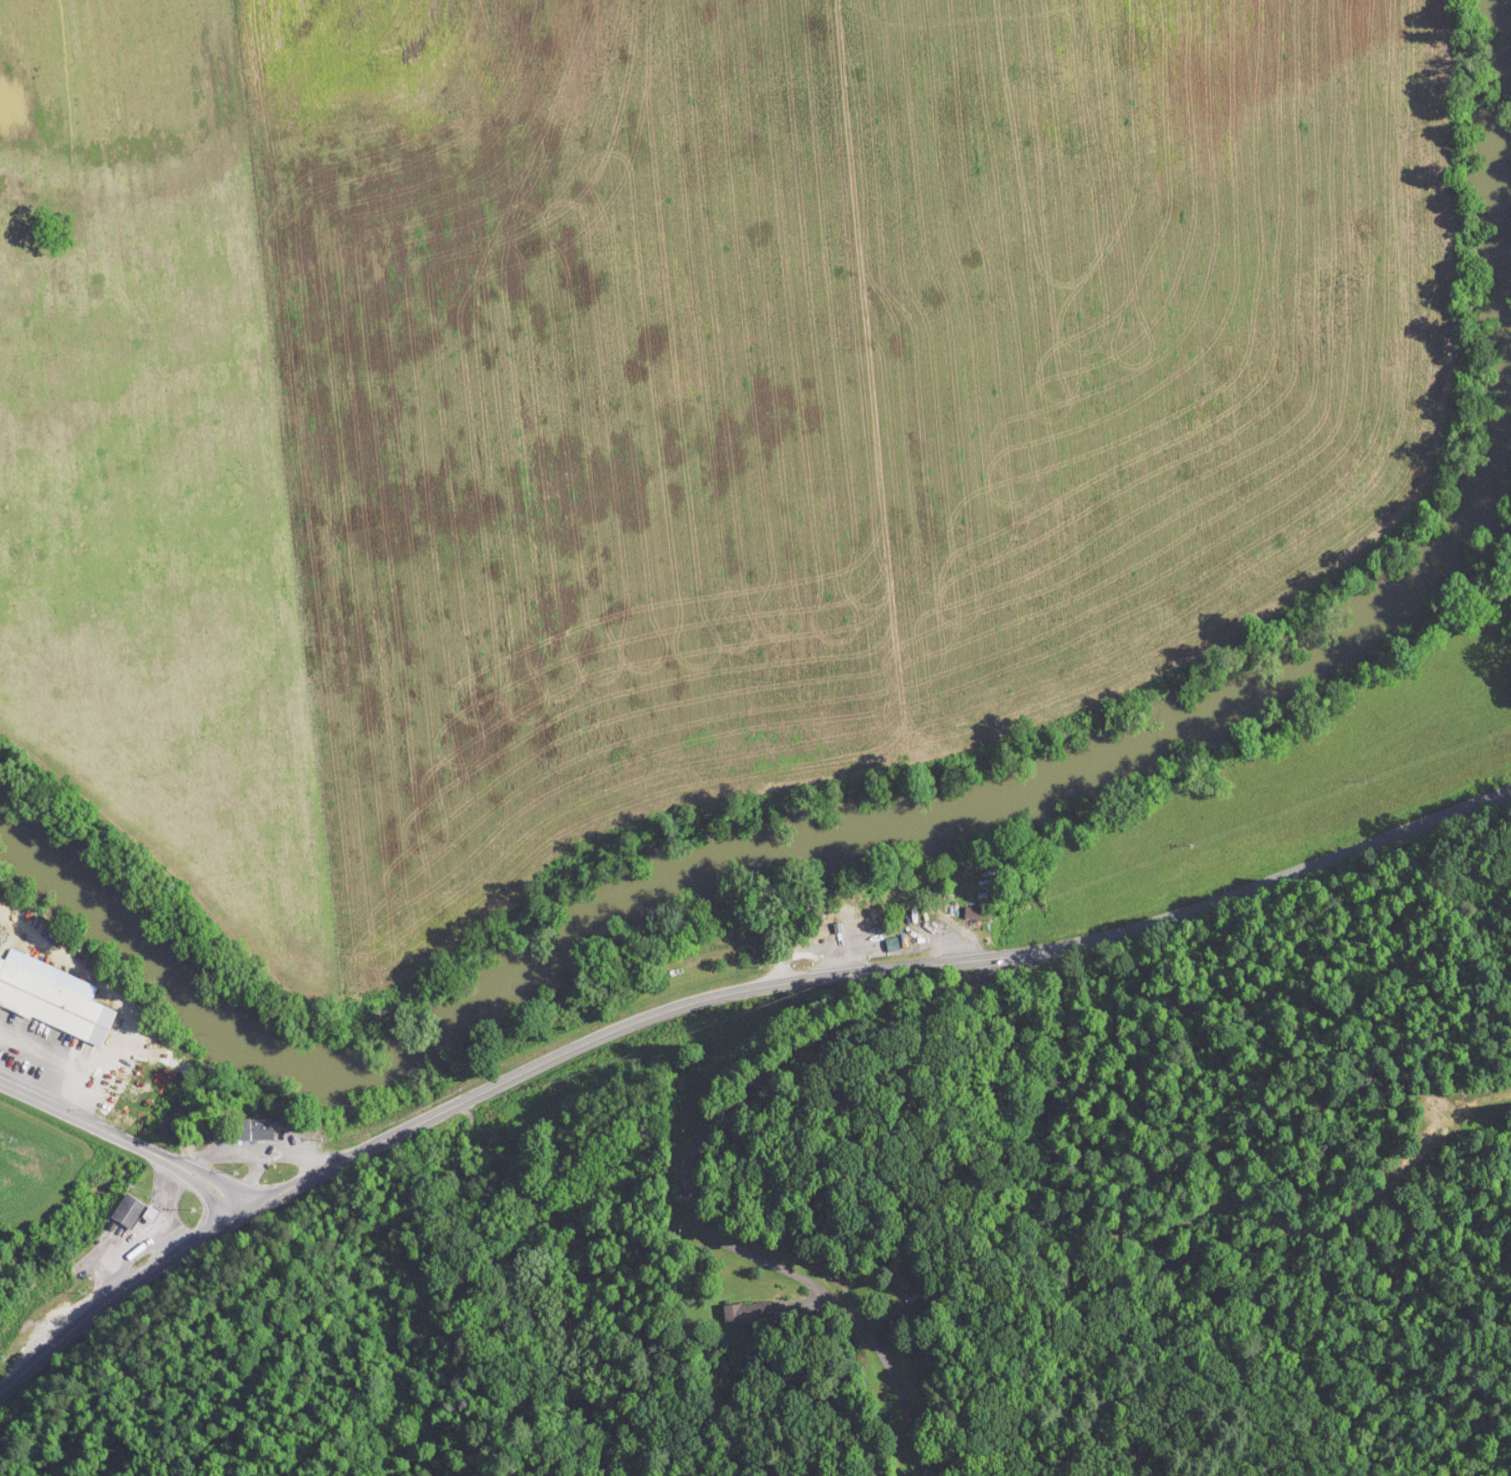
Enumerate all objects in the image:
river: (967, 799)
building: (971, 911)
road: (717, 995)
building: (52, 1004)
building: (250, 1128)
road: (125, 1139)
road: (253, 1148)
road: (252, 1177)
road: (684, 1181)
road: (166, 1199)
road: (130, 1243)
building: (895, 1276)
building: (733, 1311)

